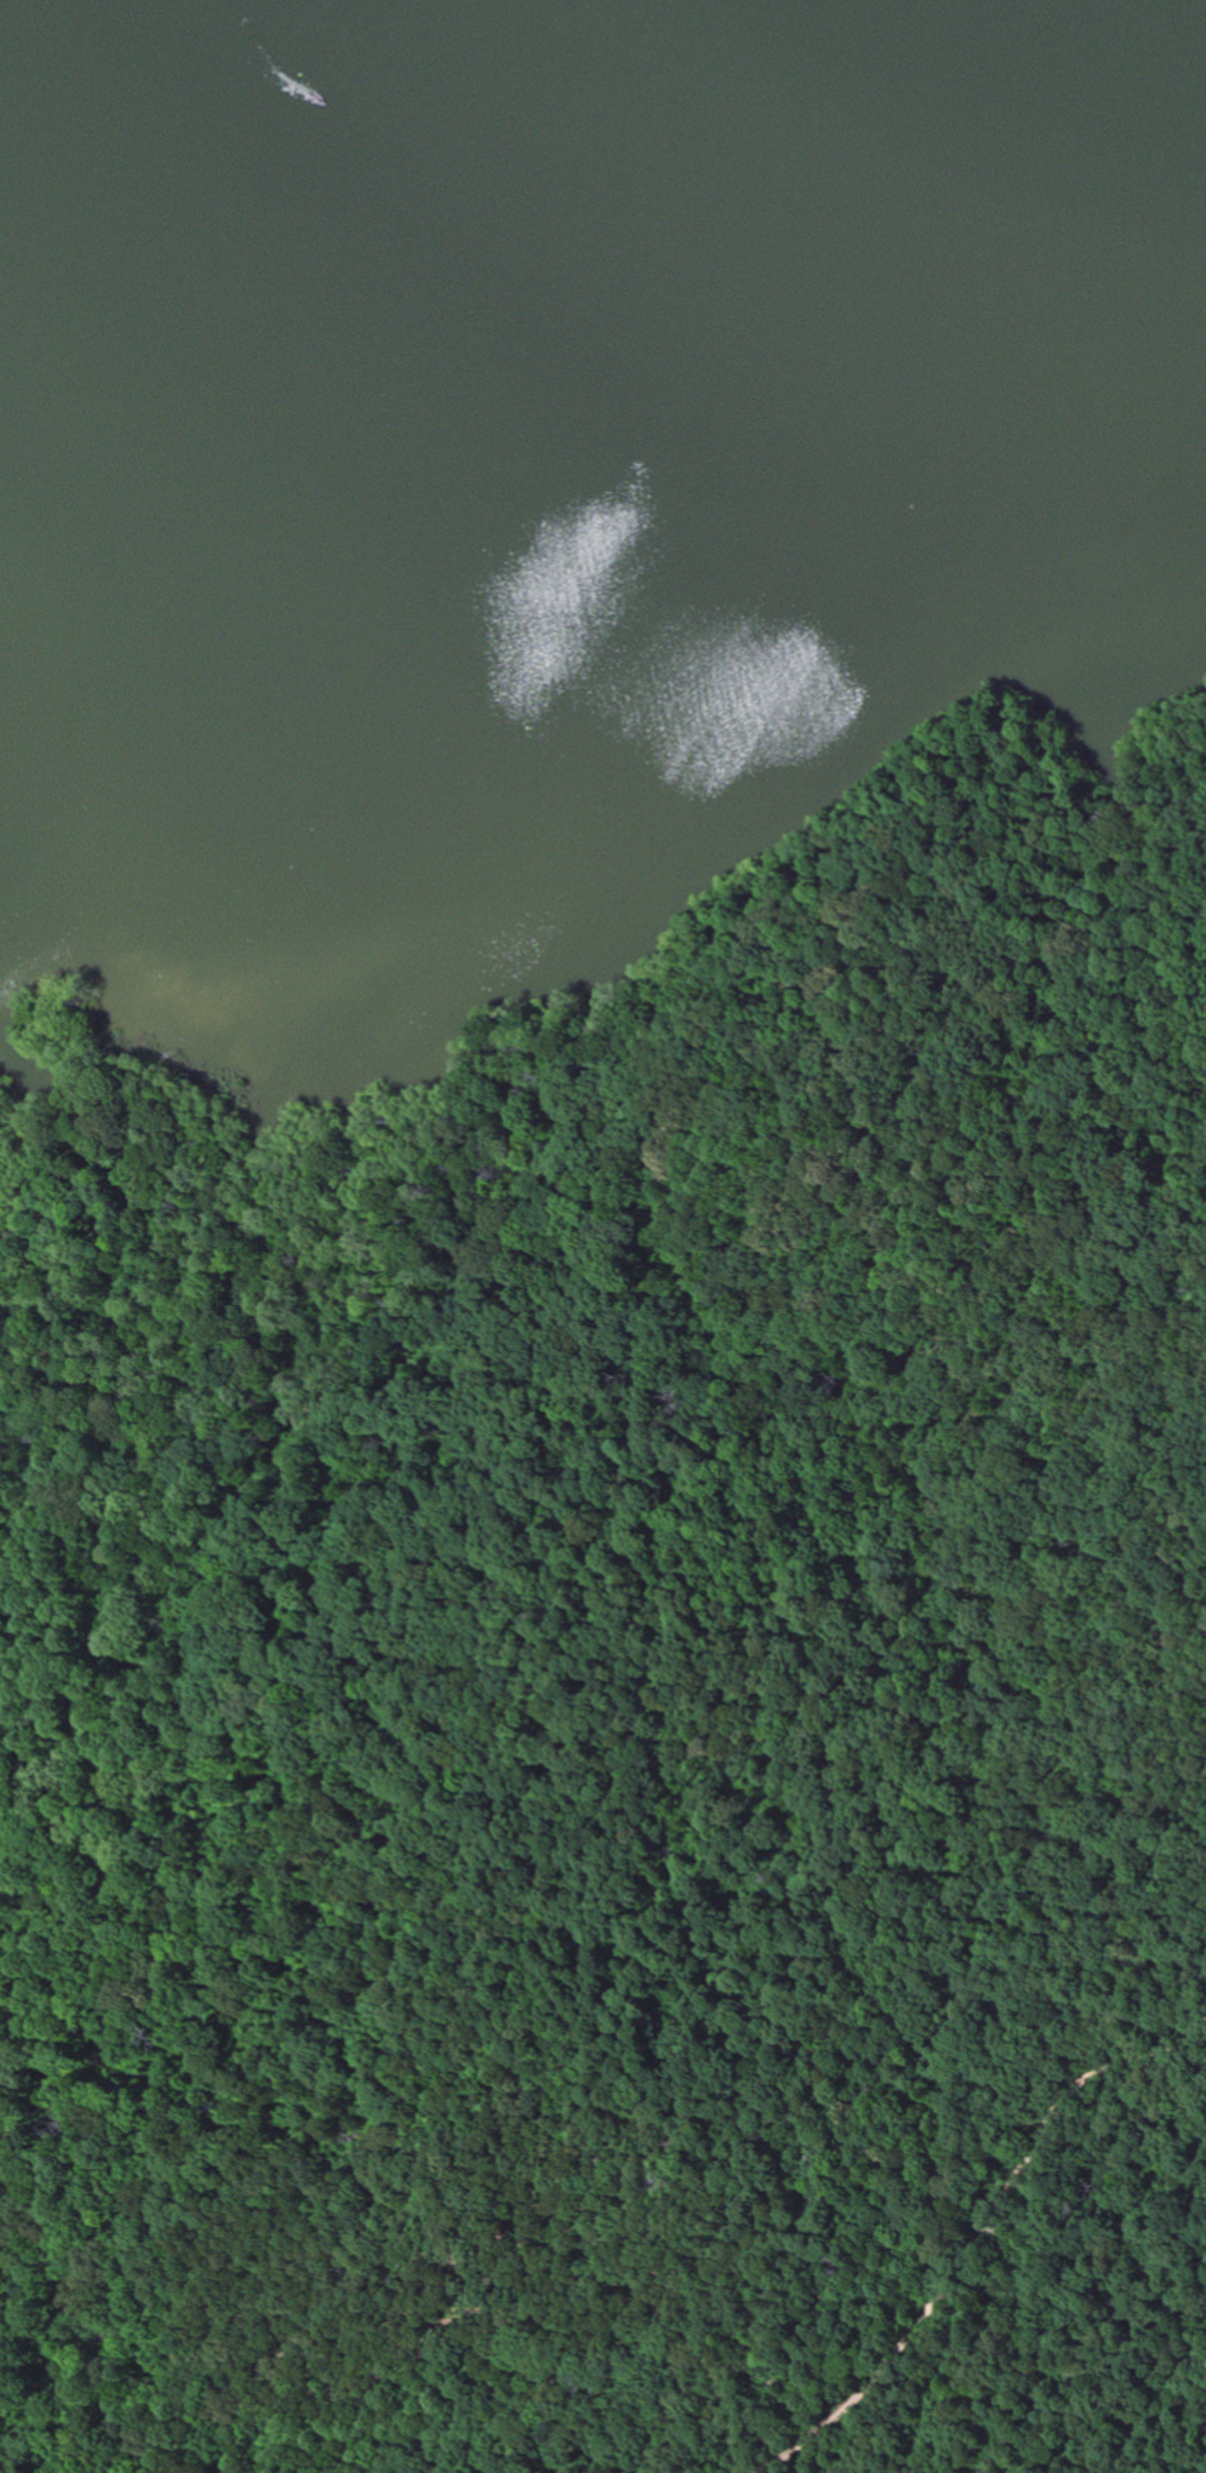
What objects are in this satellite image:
road: (974, 2233)

